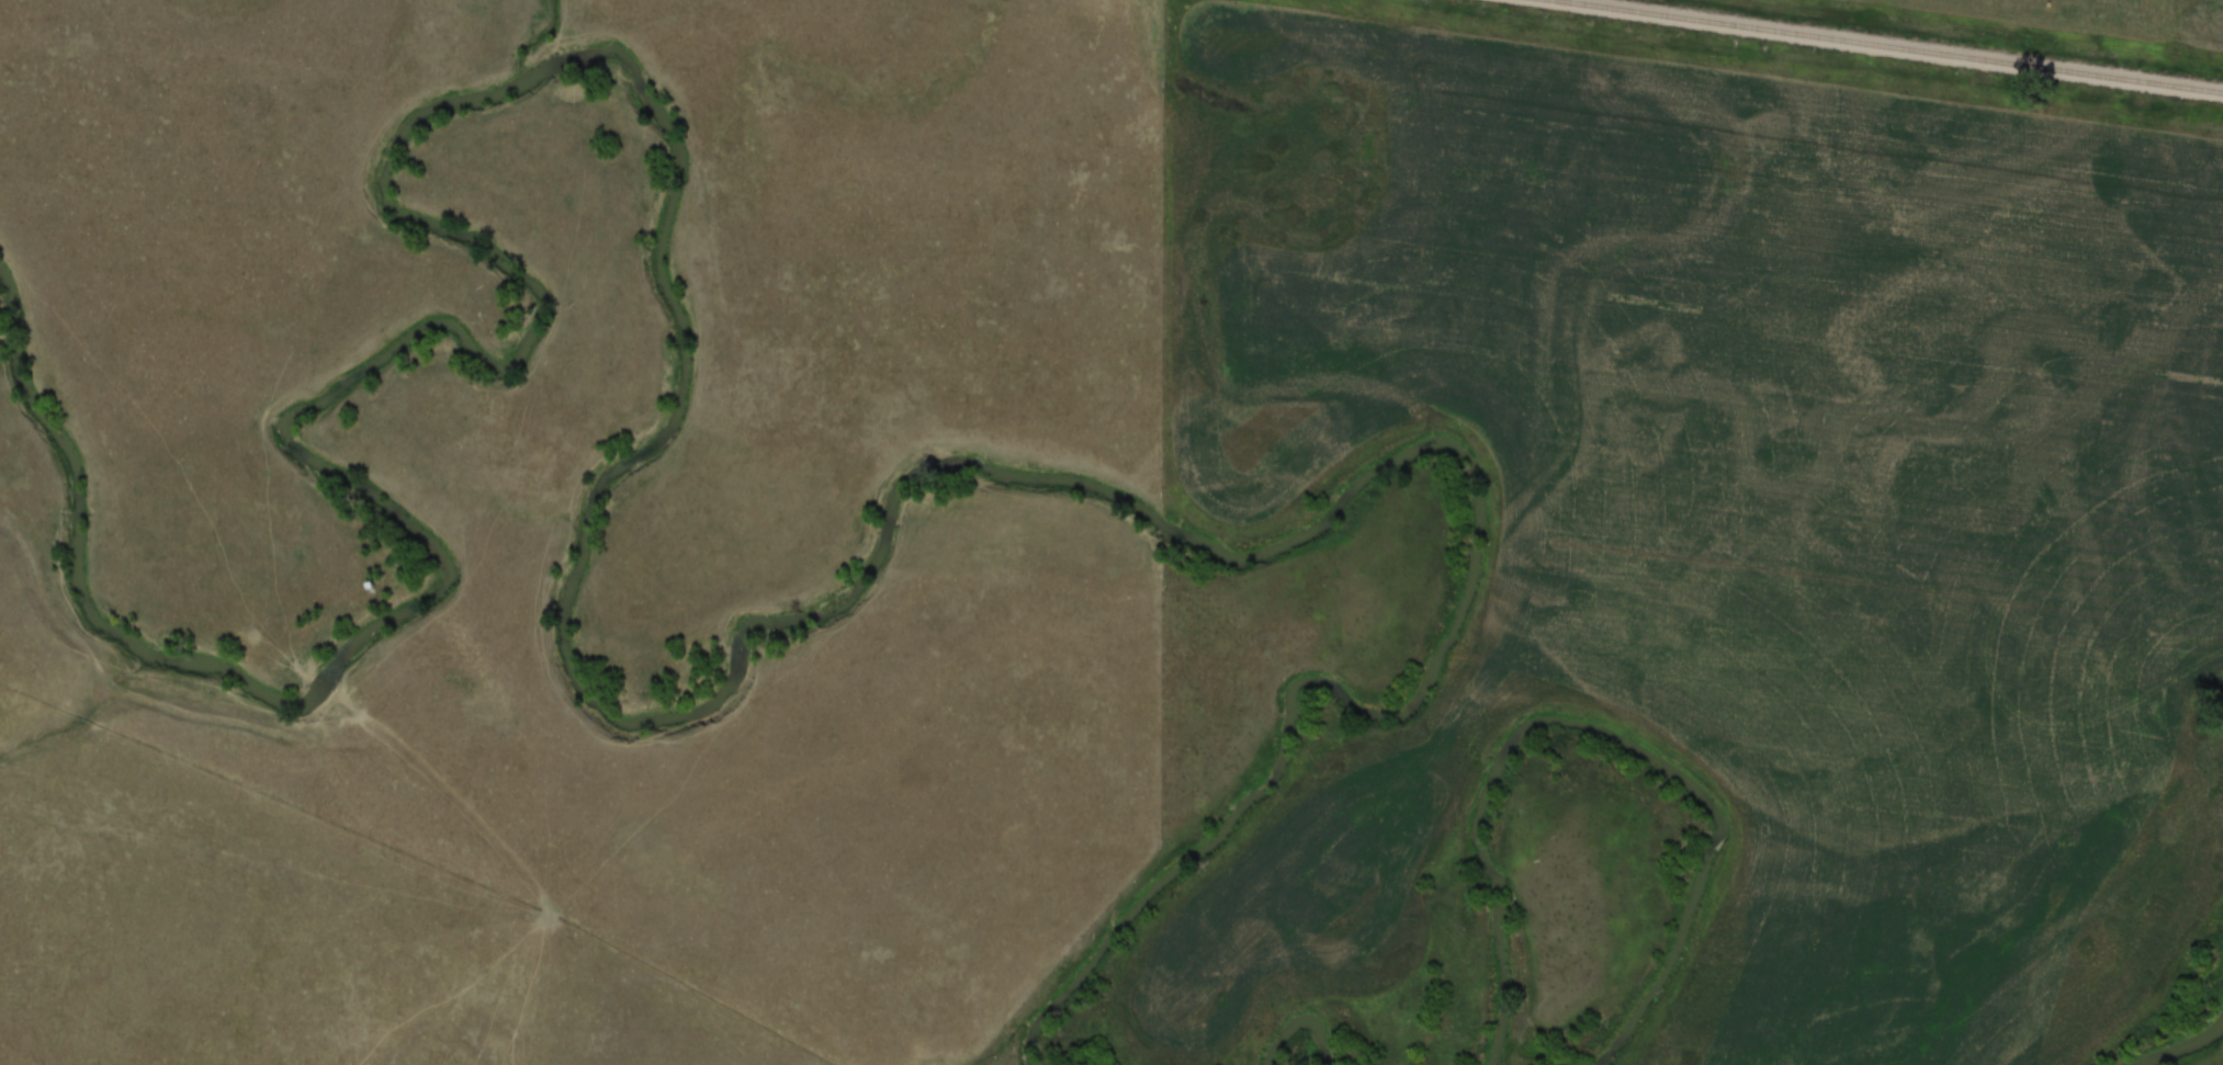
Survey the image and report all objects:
railway: (1893, 46)
crop: (1740, 508)

